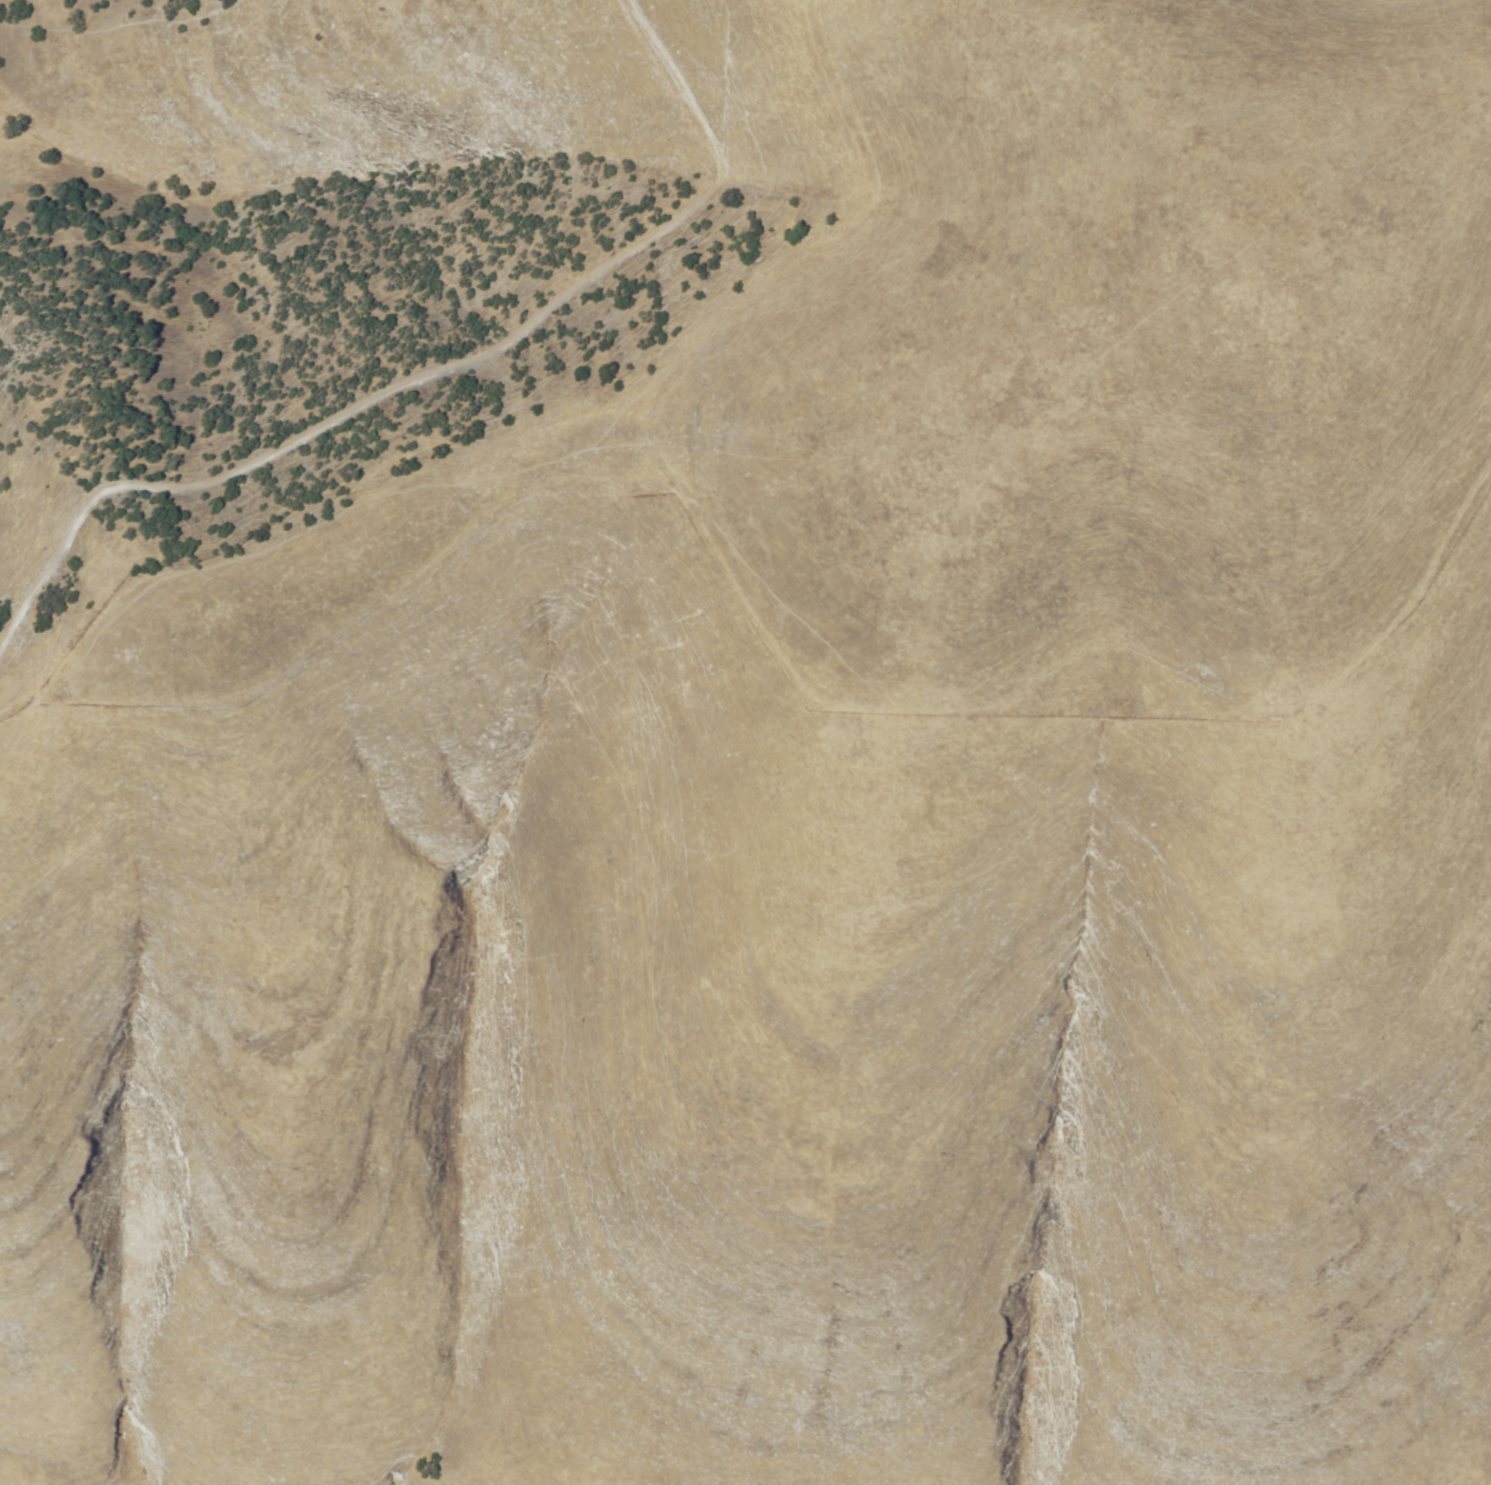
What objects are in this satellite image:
road: (1418, 1)
road: (873, 231)

